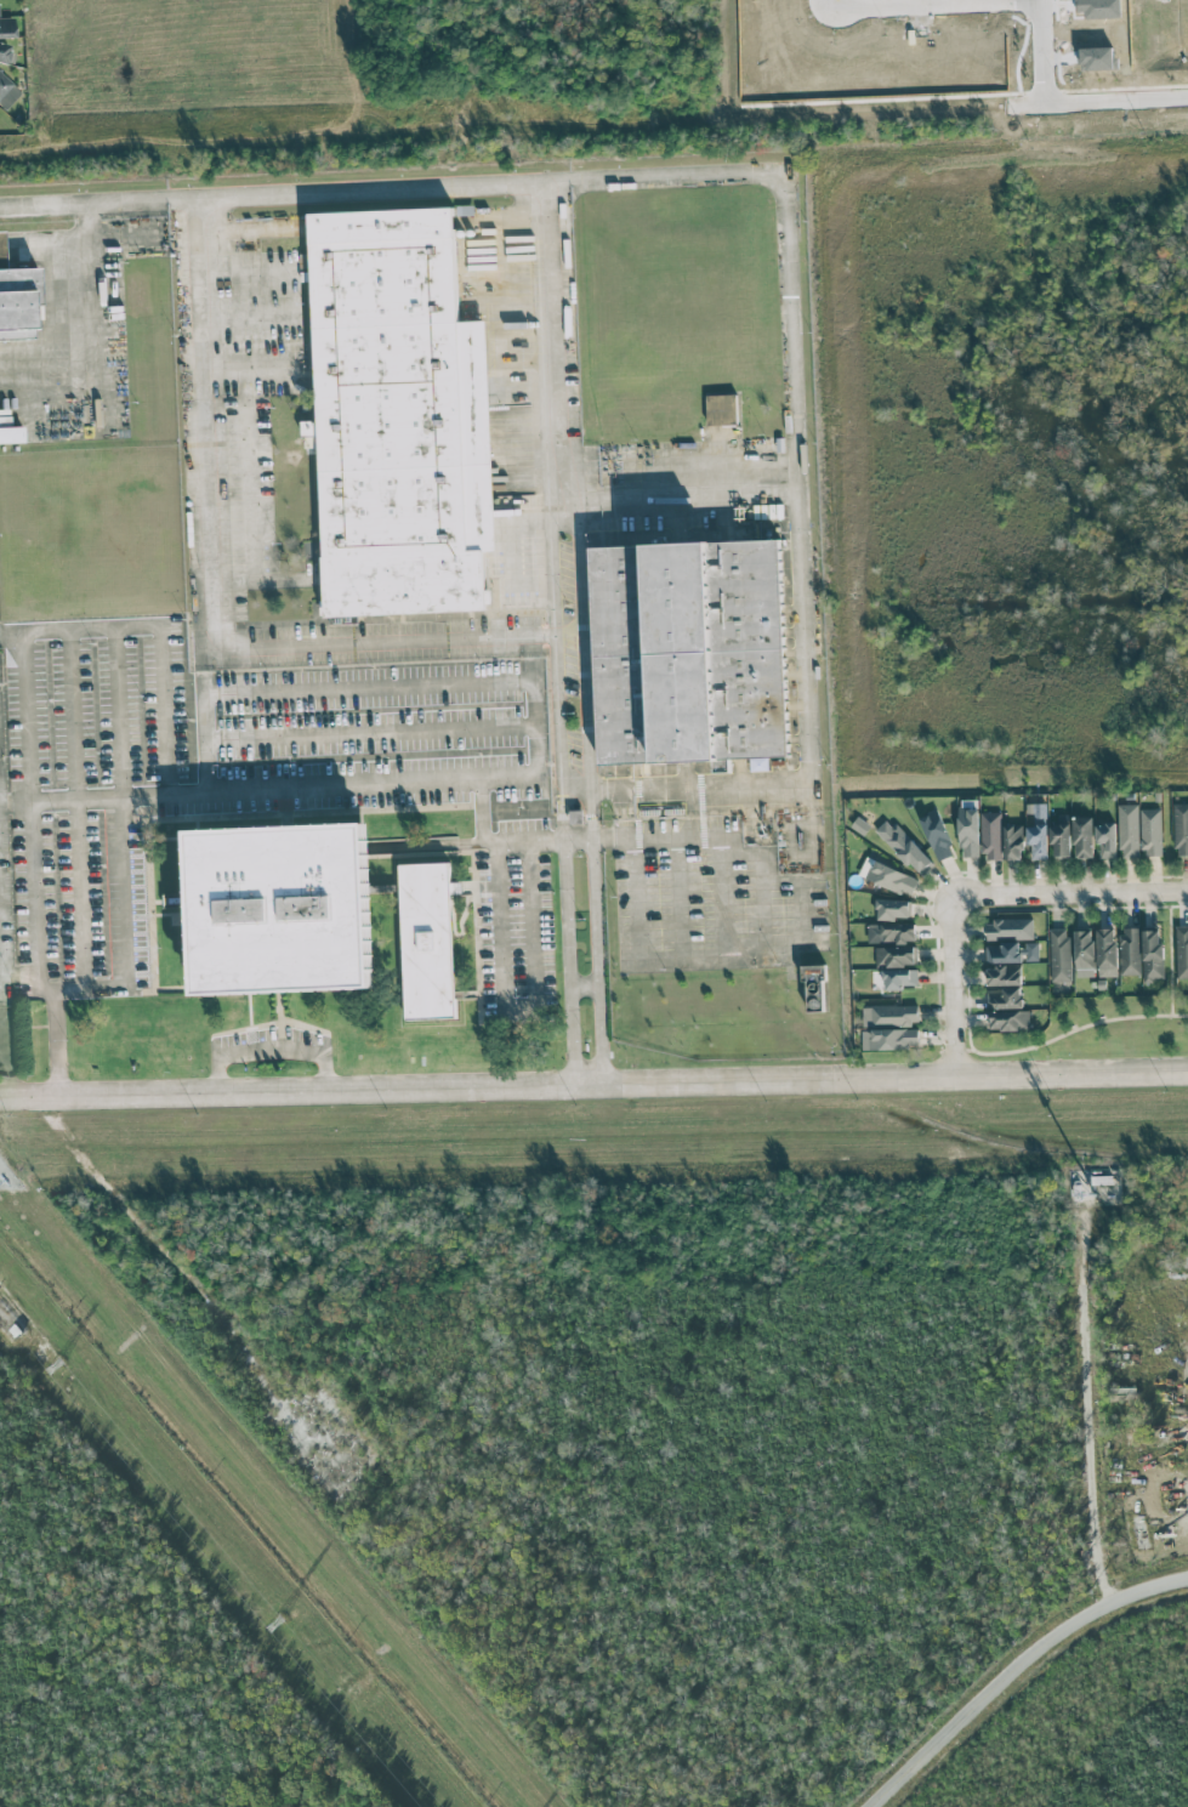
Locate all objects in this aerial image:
road: (1039, 2)
road: (932, 10)
building: (6, 28)
road: (1042, 57)
building: (6, 80)
road: (1116, 104)
road: (260, 195)
building: (16, 300)
road: (78, 330)
road: (556, 353)
road: (260, 385)
building: (722, 409)
building: (399, 416)
road: (209, 424)
building: (10, 434)
road: (801, 450)
road: (683, 489)
road: (555, 522)
road: (12, 640)
road: (400, 643)
road: (553, 648)
building: (690, 652)
road: (584, 654)
road: (532, 659)
road: (25, 664)
road: (201, 665)
road: (448, 686)
road: (115, 712)
road: (371, 733)
road: (204, 744)
parking lot: (231, 758)
building: (722, 766)
road: (563, 774)
road: (579, 788)
road: (239, 790)
road: (76, 809)
building: (860, 825)
building: (1181, 829)
building: (1129, 830)
building: (968, 831)
building: (1150, 833)
road: (652, 834)
building: (937, 835)
building: (991, 836)
building: (1082, 836)
building: (1061, 837)
road: (496, 839)
building: (1105, 840)
building: (1038, 841)
building: (1013, 842)
building: (903, 846)
building: (888, 876)
road: (1069, 890)
road: (722, 898)
road: (678, 899)
building: (175, 900)
building: (282, 909)
building: (893, 909)
road: (766, 917)
road: (124, 926)
building: (1010, 928)
building: (891, 932)
road: (574, 936)
road: (599, 936)
building: (427, 941)
building: (1131, 950)
building: (1182, 950)
building: (1031, 951)
building: (1107, 951)
building: (1004, 953)
building: (1084, 954)
building: (1059, 955)
building: (1153, 955)
building: (896, 956)
road: (743, 962)
building: (1004, 976)
building: (900, 978)
road: (951, 984)
building: (813, 988)
road: (30, 990)
building: (1004, 999)
road: (519, 1007)
building: (889, 1015)
building: (1008, 1019)
building: (889, 1039)
road: (63, 1046)
road: (271, 1049)
road: (593, 1085)
power tower: (53, 1365)
road: (1096, 1403)
power tower: (273, 1625)
road: (1016, 1671)

